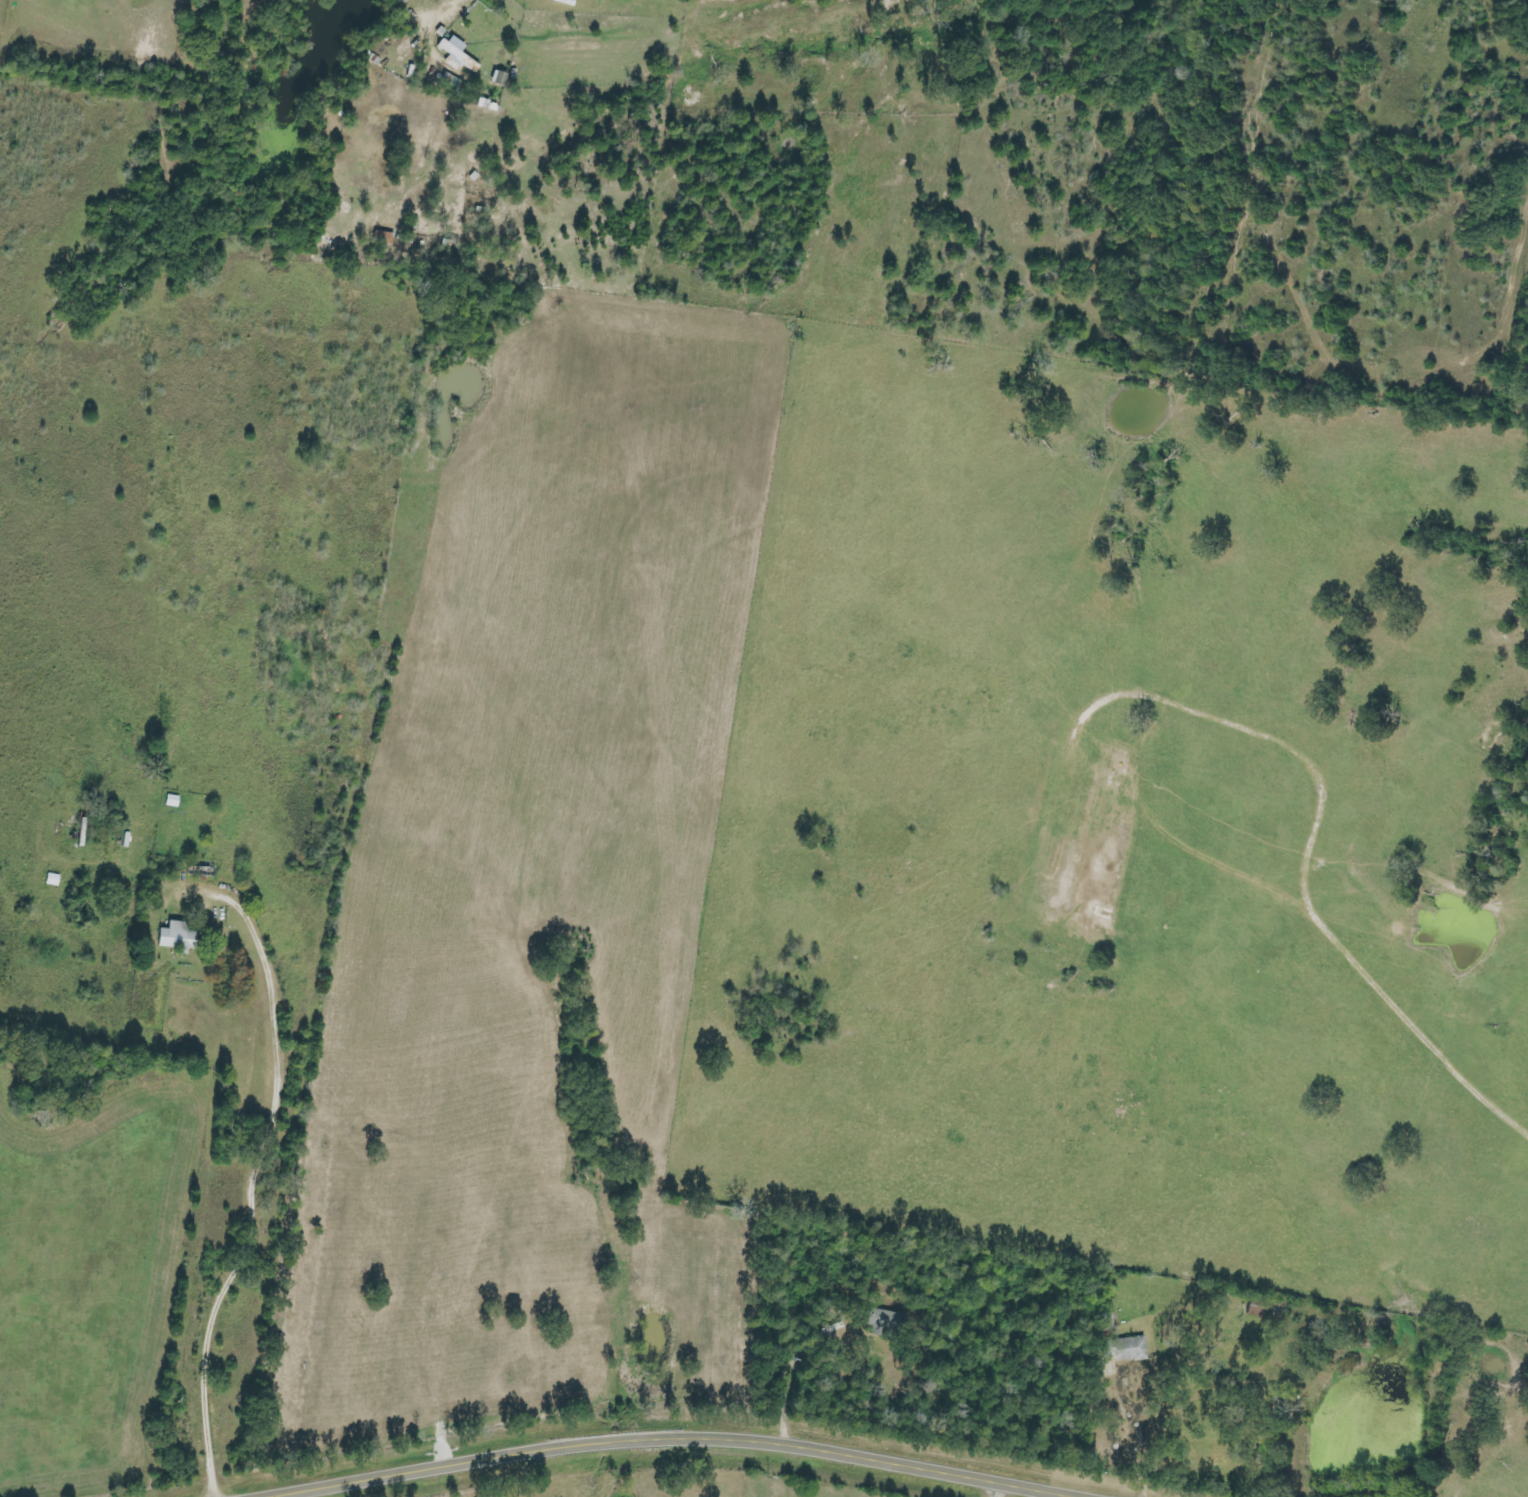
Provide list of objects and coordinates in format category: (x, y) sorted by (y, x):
building: (456, 55)
building: (498, 78)
building: (450, 83)
building: (171, 801)
building: (177, 937)
road: (1517, 1155)
building: (883, 1321)
building: (1124, 1349)
road: (670, 1439)

